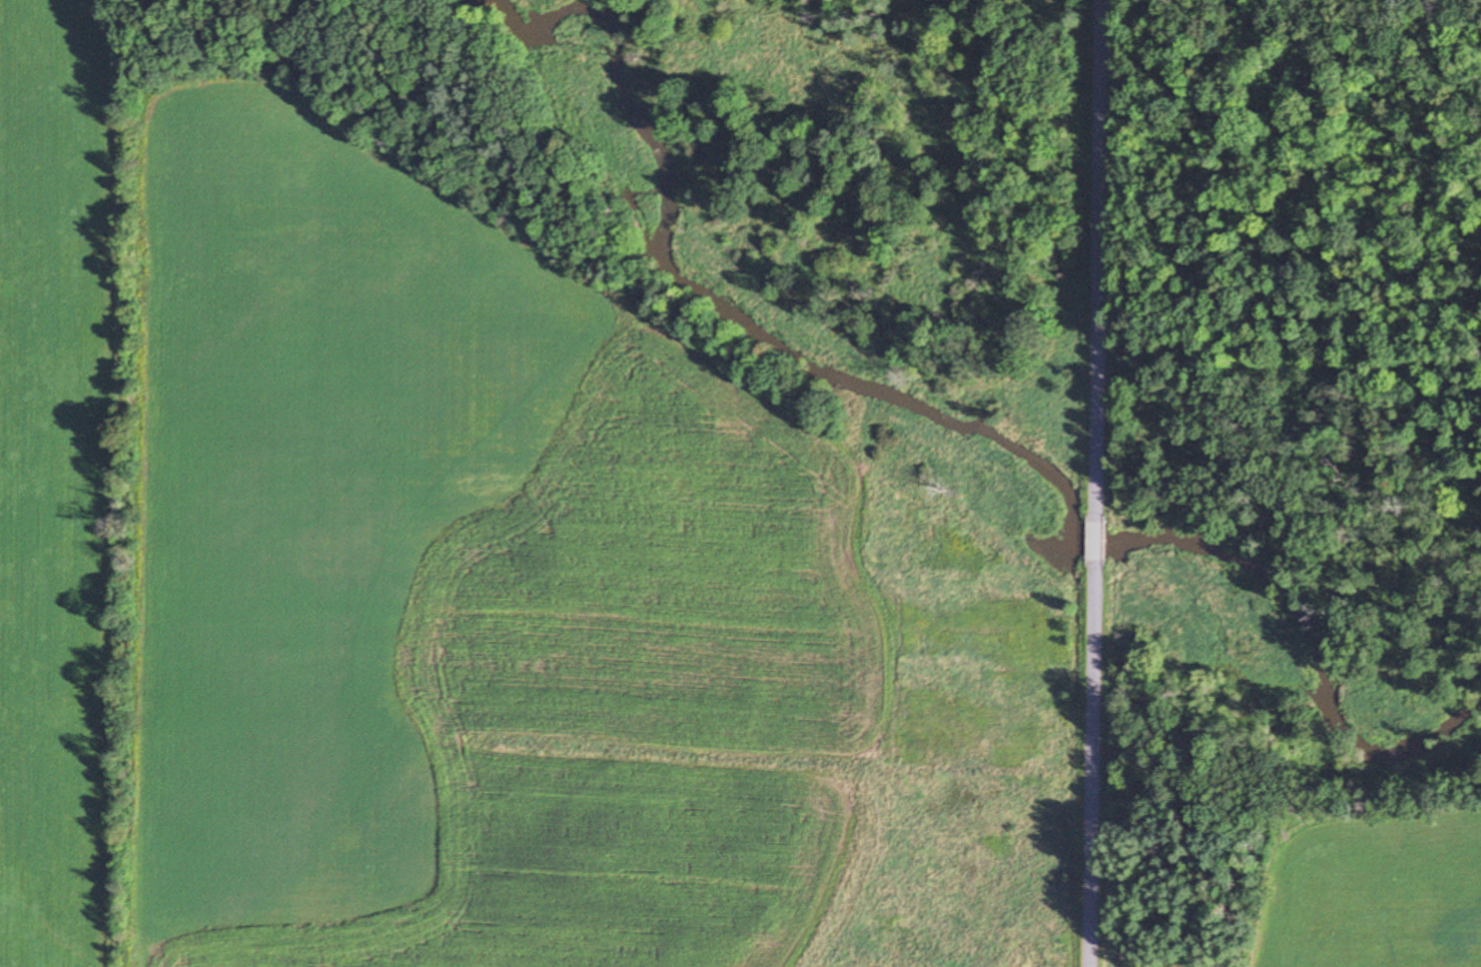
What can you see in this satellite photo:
road: (1098, 483)

